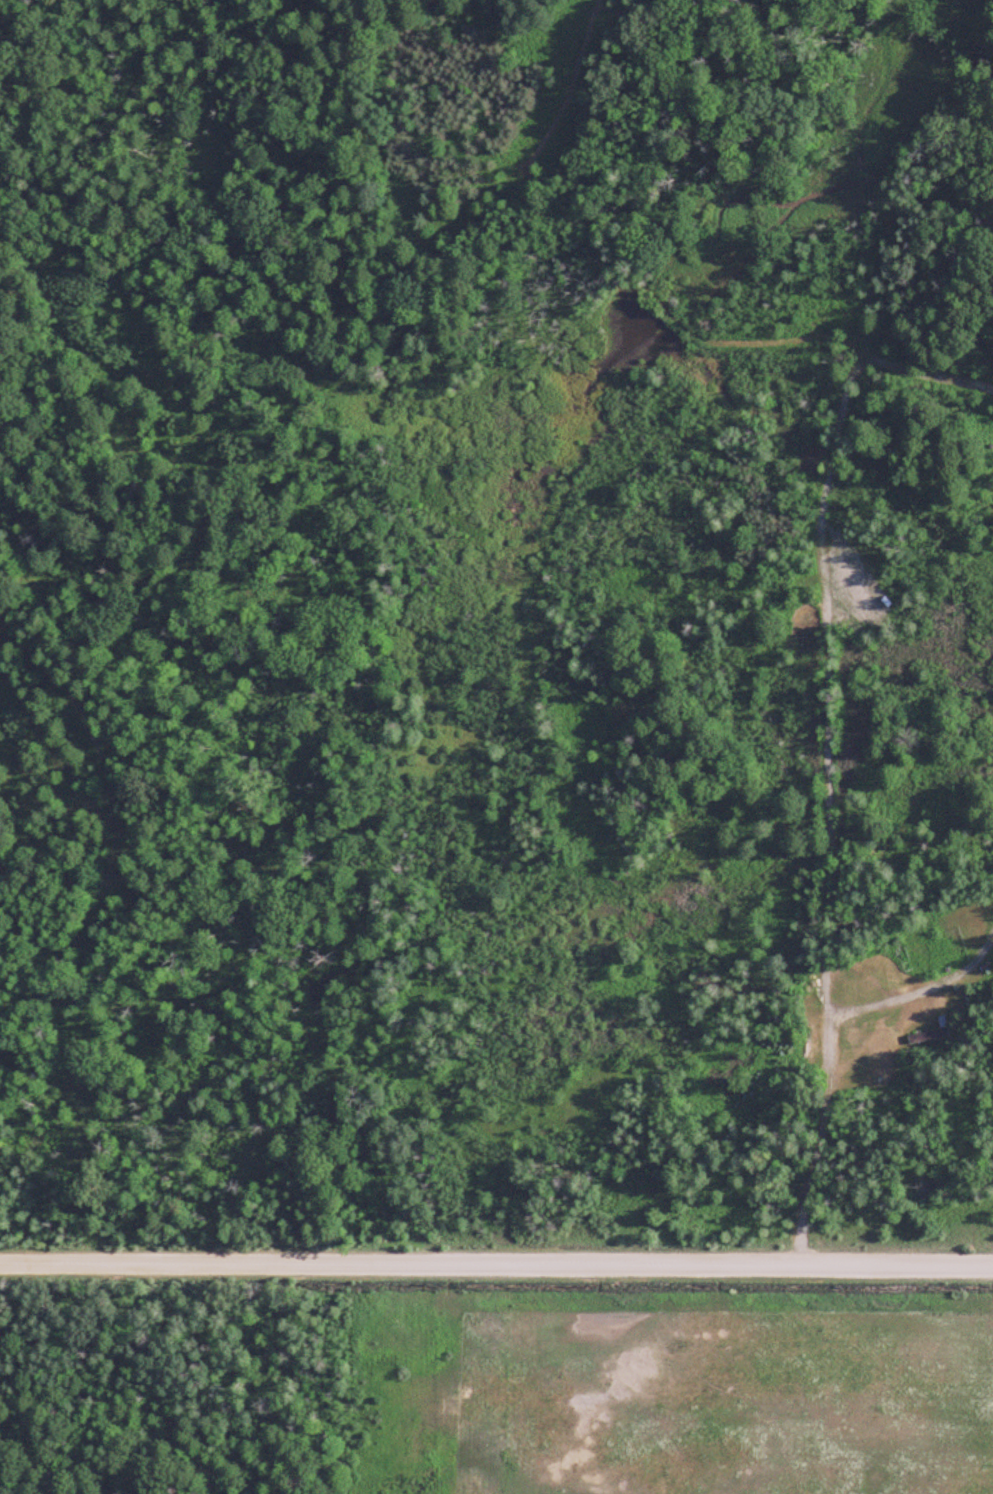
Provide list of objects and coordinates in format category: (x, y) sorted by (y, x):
building: (928, 1035)
road: (496, 1267)

